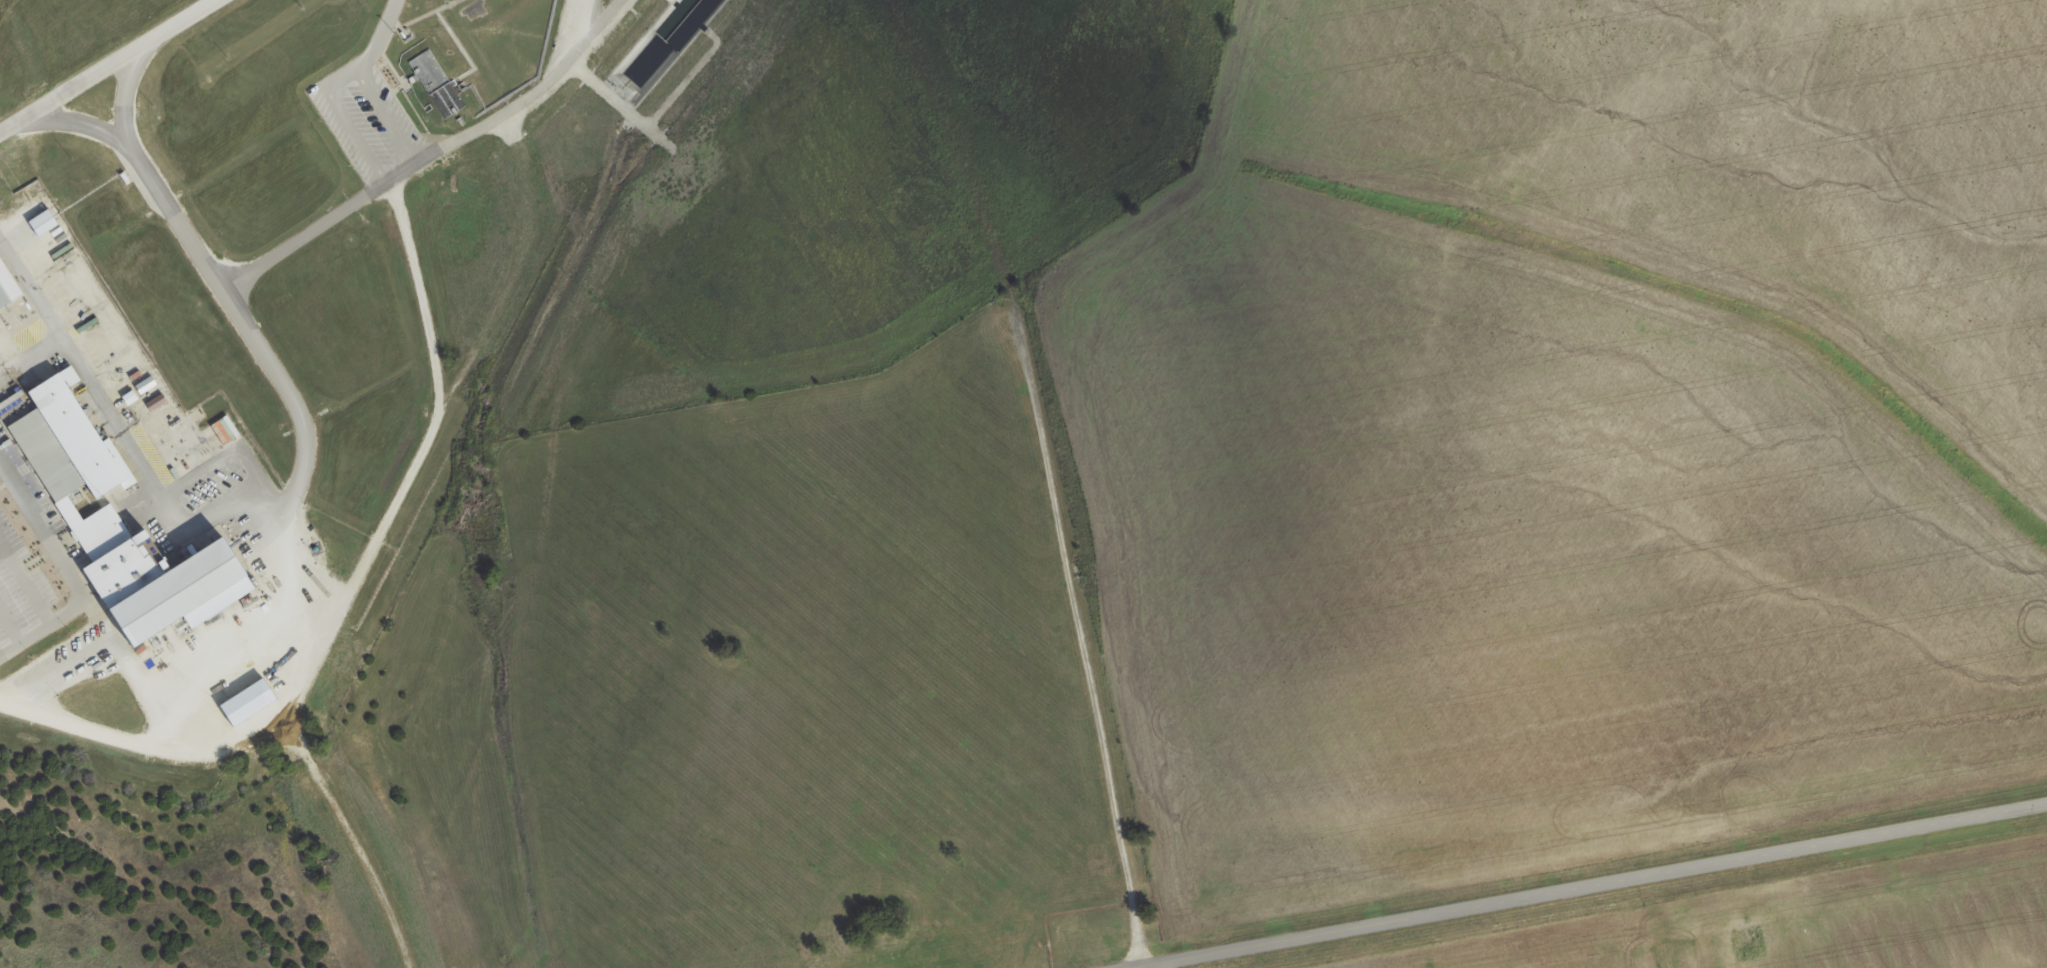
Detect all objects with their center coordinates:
road: (574, 10)
road: (565, 37)
road: (101, 64)
road: (362, 81)
building: (434, 83)
road: (528, 92)
road: (122, 94)
road: (618, 105)
road: (342, 119)
parking lot: (363, 119)
road: (307, 232)
building: (3, 298)
road: (256, 339)
road: (29, 357)
road: (75, 364)
railway: (90, 386)
parking lot: (10, 448)
building: (73, 462)
road: (1051, 471)
road: (15, 474)
parking lot: (35, 489)
road: (387, 513)
road: (311, 561)
building: (125, 570)
parking lot: (25, 593)
building: (174, 594)
road: (35, 597)
road: (9, 625)
road: (25, 637)
road: (120, 662)
road: (53, 670)
railway: (312, 741)
road: (348, 840)
road: (1595, 885)
road: (1653, 922)
road: (1135, 966)
road: (1143, 966)

